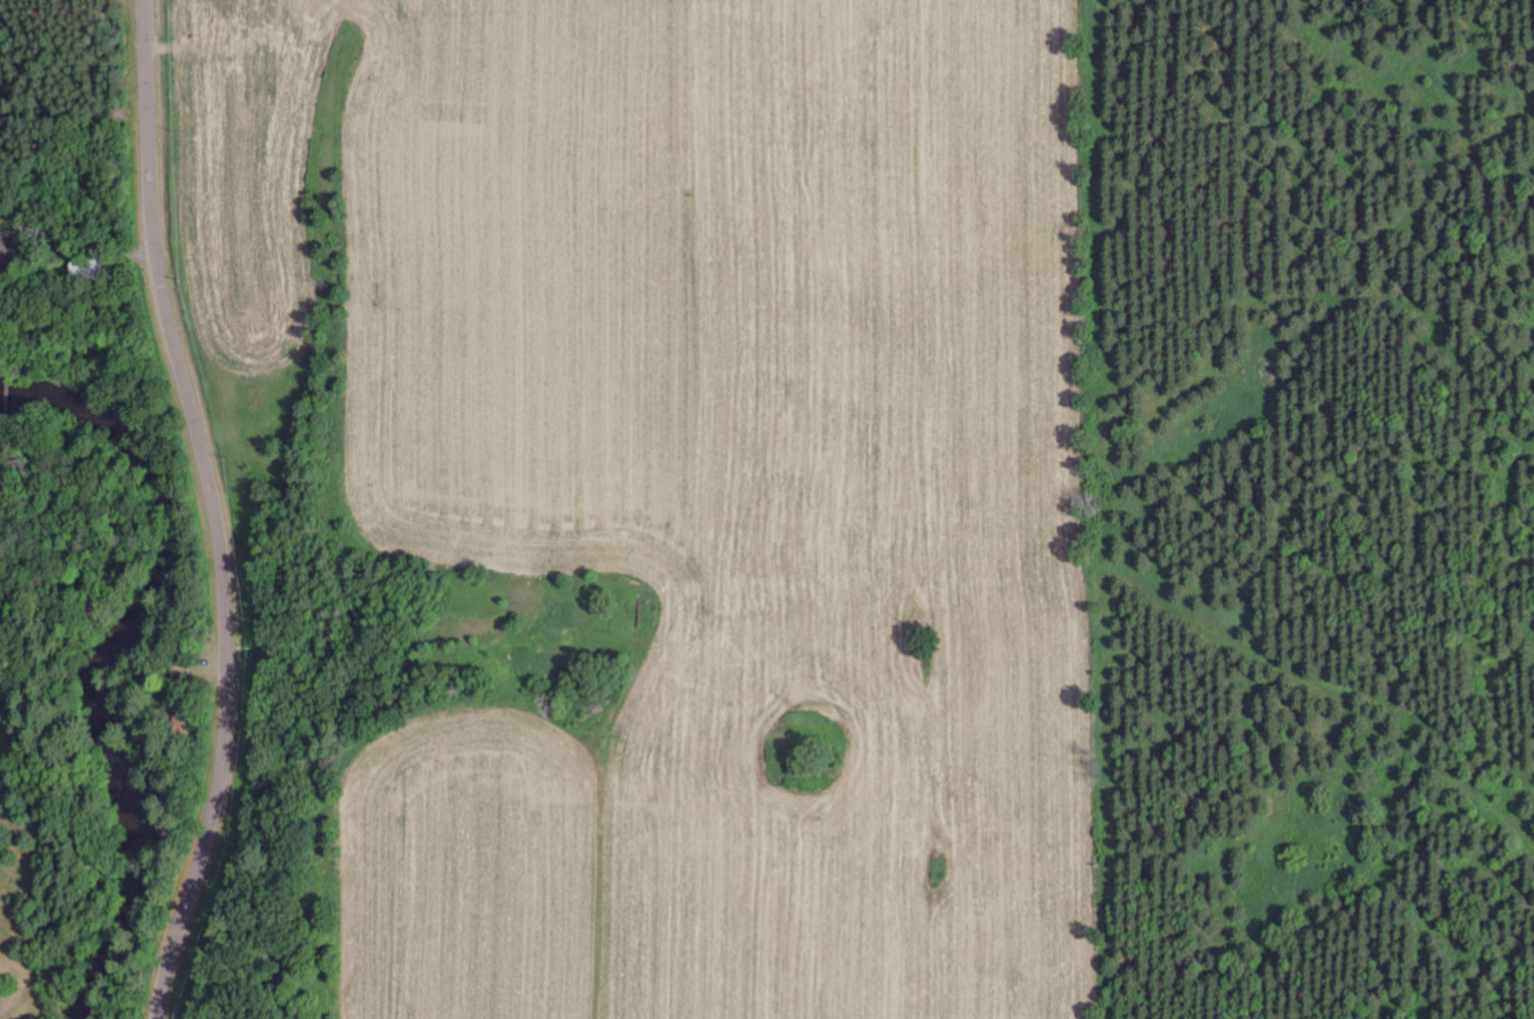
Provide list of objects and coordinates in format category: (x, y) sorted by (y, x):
building: (3, 257)
building: (88, 269)
road: (216, 510)
building: (178, 668)

